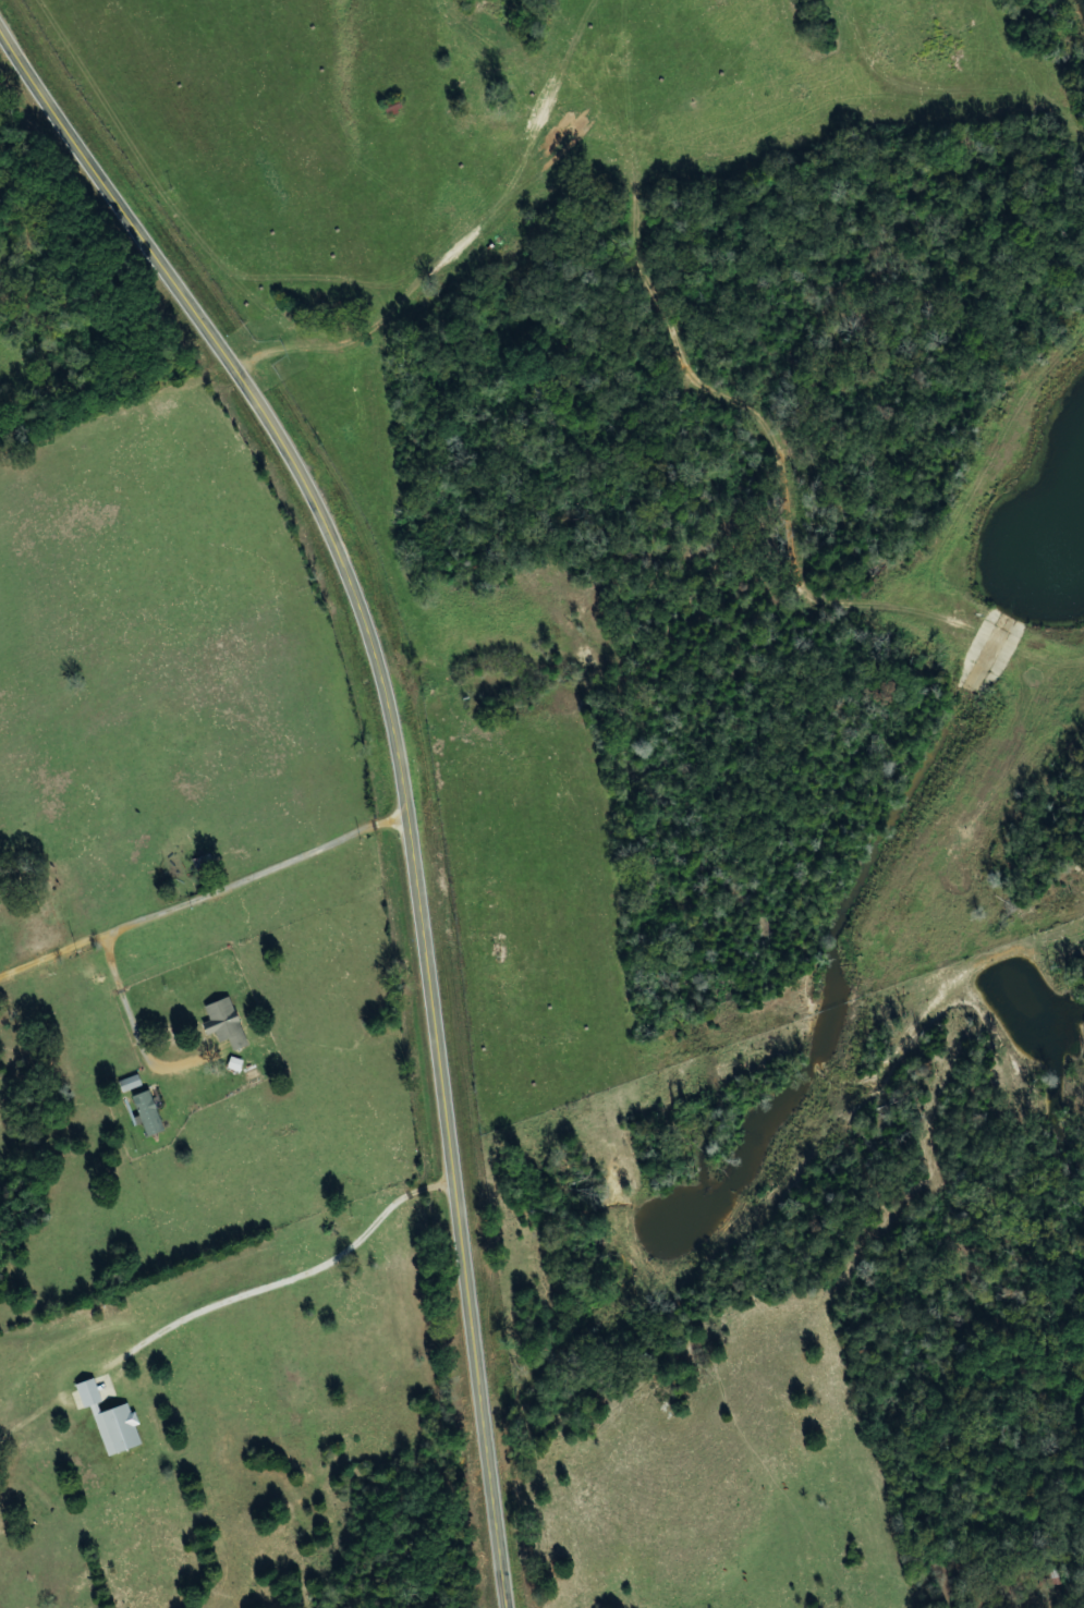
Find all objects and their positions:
road: (399, 765)
road: (217, 887)
building: (228, 1023)
building: (237, 1063)
building: (133, 1083)
building: (151, 1112)
building: (89, 1393)
building: (121, 1429)
road: (943, 1579)

